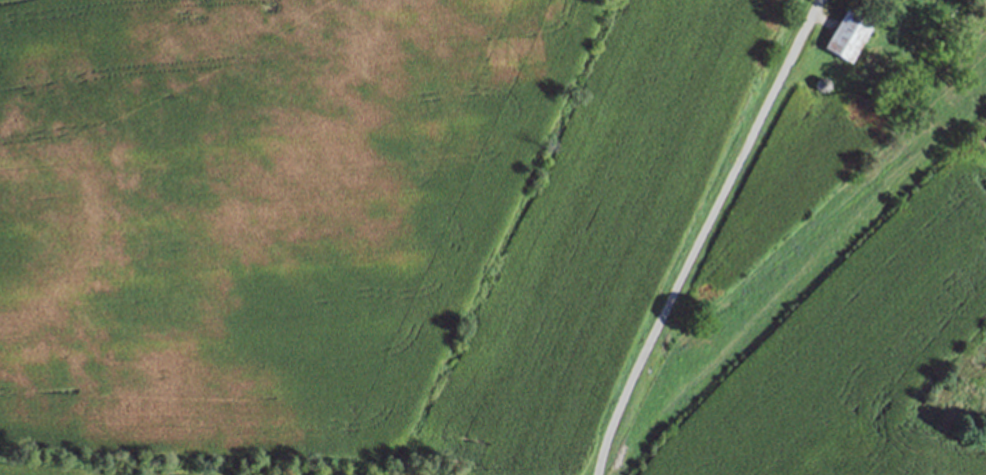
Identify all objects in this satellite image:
road: (813, 10)
building: (846, 39)
crop: (342, 224)
road: (698, 246)
crop: (823, 307)

